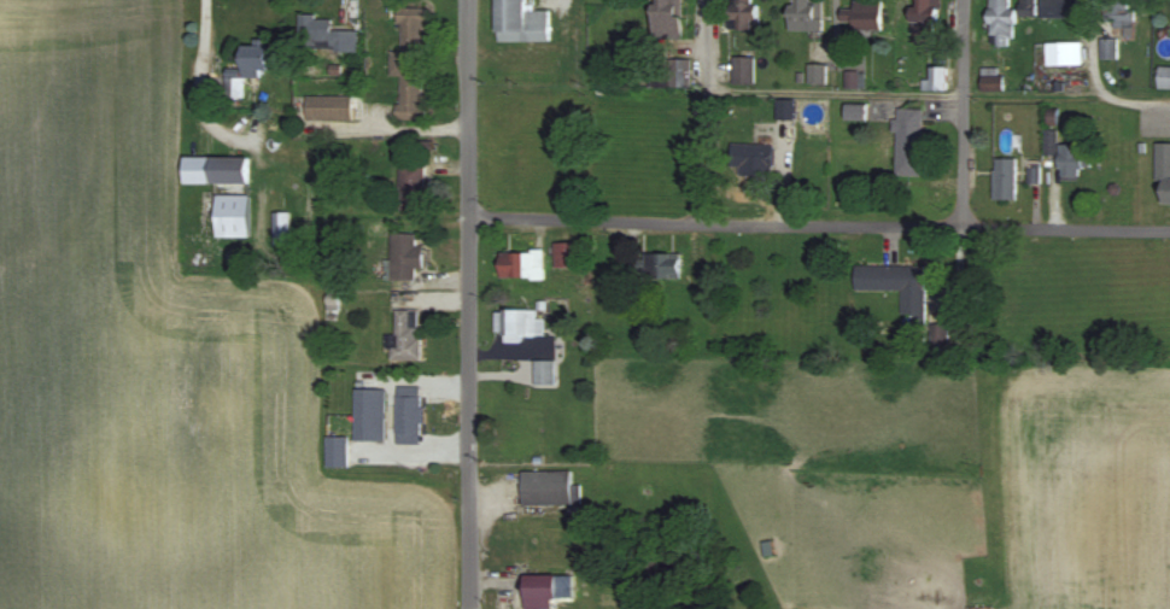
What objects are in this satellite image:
building: (1028, 7)
building: (1058, 8)
building: (1116, 12)
building: (743, 14)
building: (805, 14)
building: (866, 14)
building: (667, 18)
building: (924, 21)
building: (1000, 21)
building: (519, 23)
building: (324, 33)
building: (1106, 47)
building: (1063, 52)
building: (262, 57)
building: (410, 64)
building: (742, 70)
building: (679, 72)
building: (1163, 77)
road: (195, 78)
building: (935, 78)
building: (990, 81)
road: (1093, 84)
building: (233, 87)
road: (836, 93)
road: (1030, 94)
building: (329, 109)
road: (405, 124)
building: (907, 141)
road: (706, 152)
road: (963, 156)
building: (751, 158)
building: (1071, 159)
building: (1163, 172)
building: (1004, 178)
building: (410, 187)
building: (222, 191)
road: (818, 226)
building: (280, 228)
building: (567, 254)
building: (404, 257)
building: (521, 265)
building: (662, 265)
building: (894, 285)
road: (468, 304)
building: (517, 324)
building: (405, 334)
building: (544, 371)
building: (368, 414)
building: (408, 415)
building: (335, 451)
building: (549, 487)
building: (546, 590)

